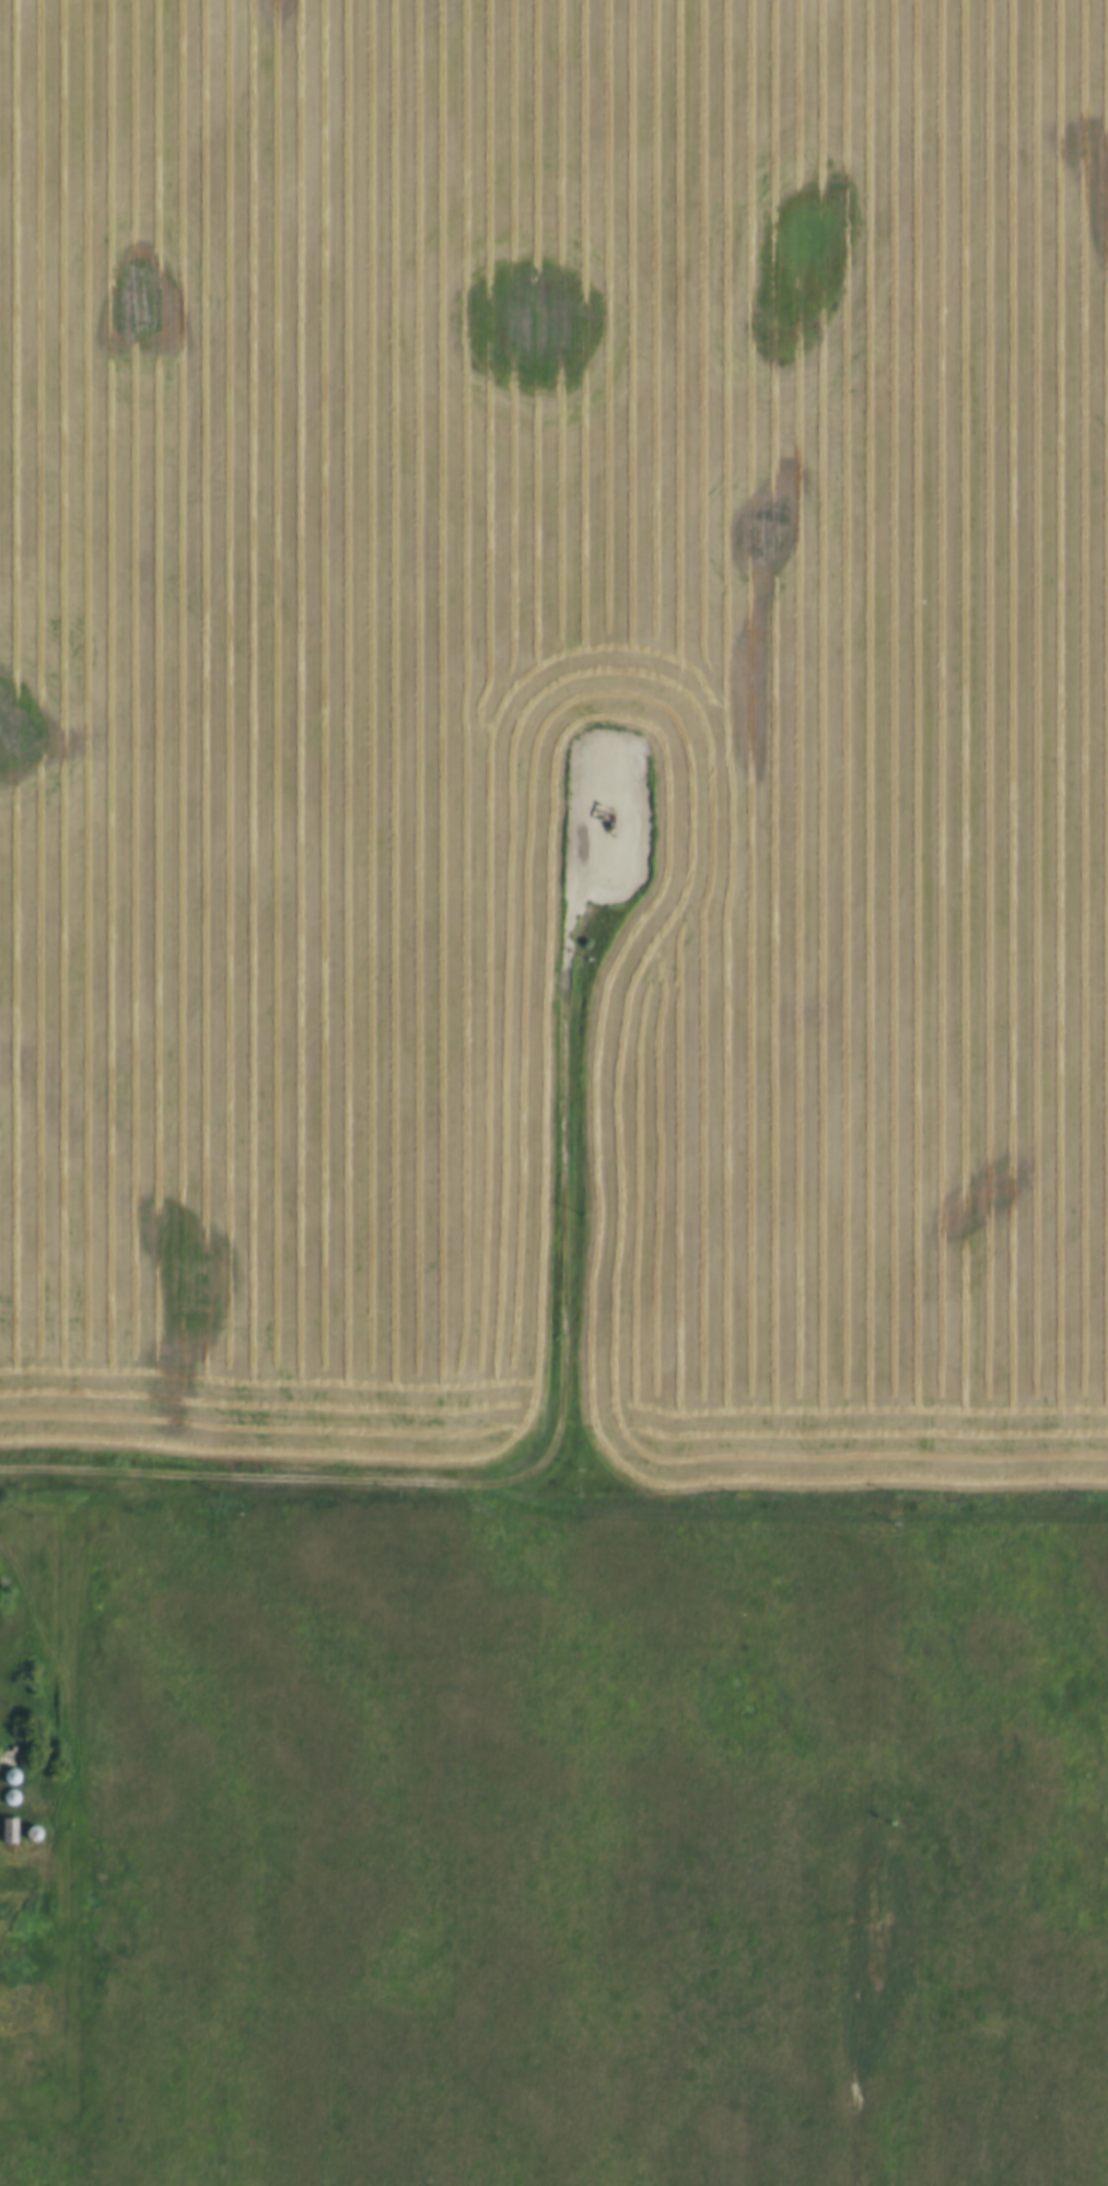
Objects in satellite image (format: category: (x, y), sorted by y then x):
road: (555, 1422)
building: (4, 1764)
silo: (4, 1764)
building: (4, 1786)
silo: (4, 1786)
building: (11, 1796)
building: (3, 1819)
building: (25, 1821)
silo: (25, 1821)
building: (33, 1832)
road: (853, 2060)

